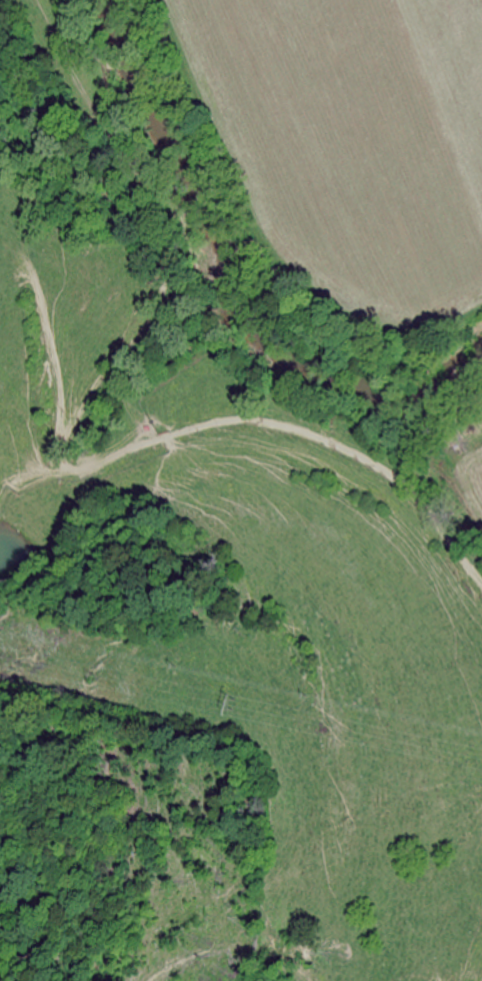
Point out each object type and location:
road: (233, 395)

